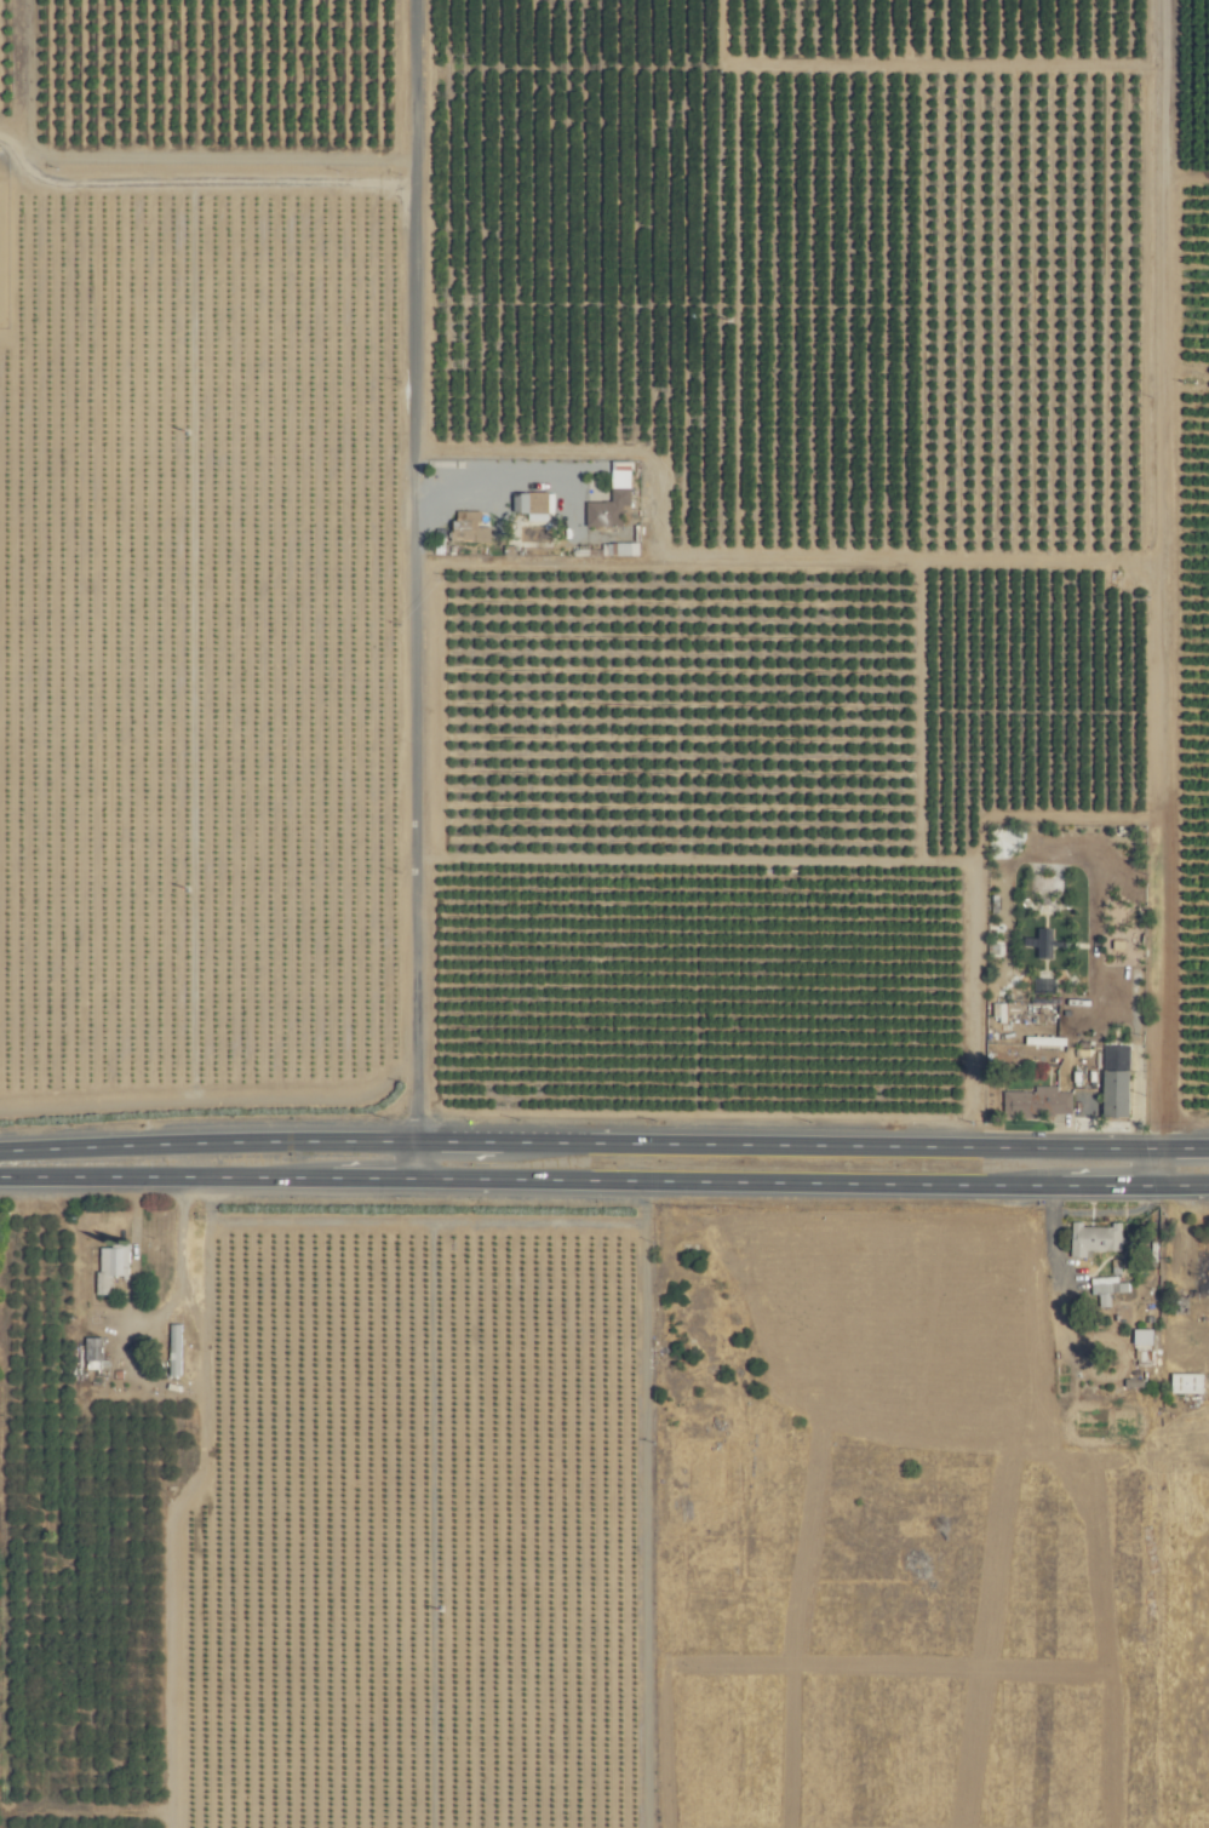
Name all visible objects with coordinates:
road: (211, 155)
road: (476, 497)
building: (526, 502)
building: (604, 509)
building: (465, 528)
road: (585, 535)
building: (620, 548)
road: (755, 554)
road: (420, 589)
road: (1161, 592)
crop: (520, 793)
building: (1111, 1093)
building: (1033, 1102)
road: (603, 1144)
road: (604, 1180)
road: (1105, 1211)
road: (1049, 1231)
building: (1090, 1238)
building: (107, 1266)
building: (1202, 1277)
road: (147, 1324)
building: (1138, 1339)
building: (171, 1349)
building: (91, 1356)
building: (1181, 1383)
crop: (951, 1411)
crop: (1188, 1645)

